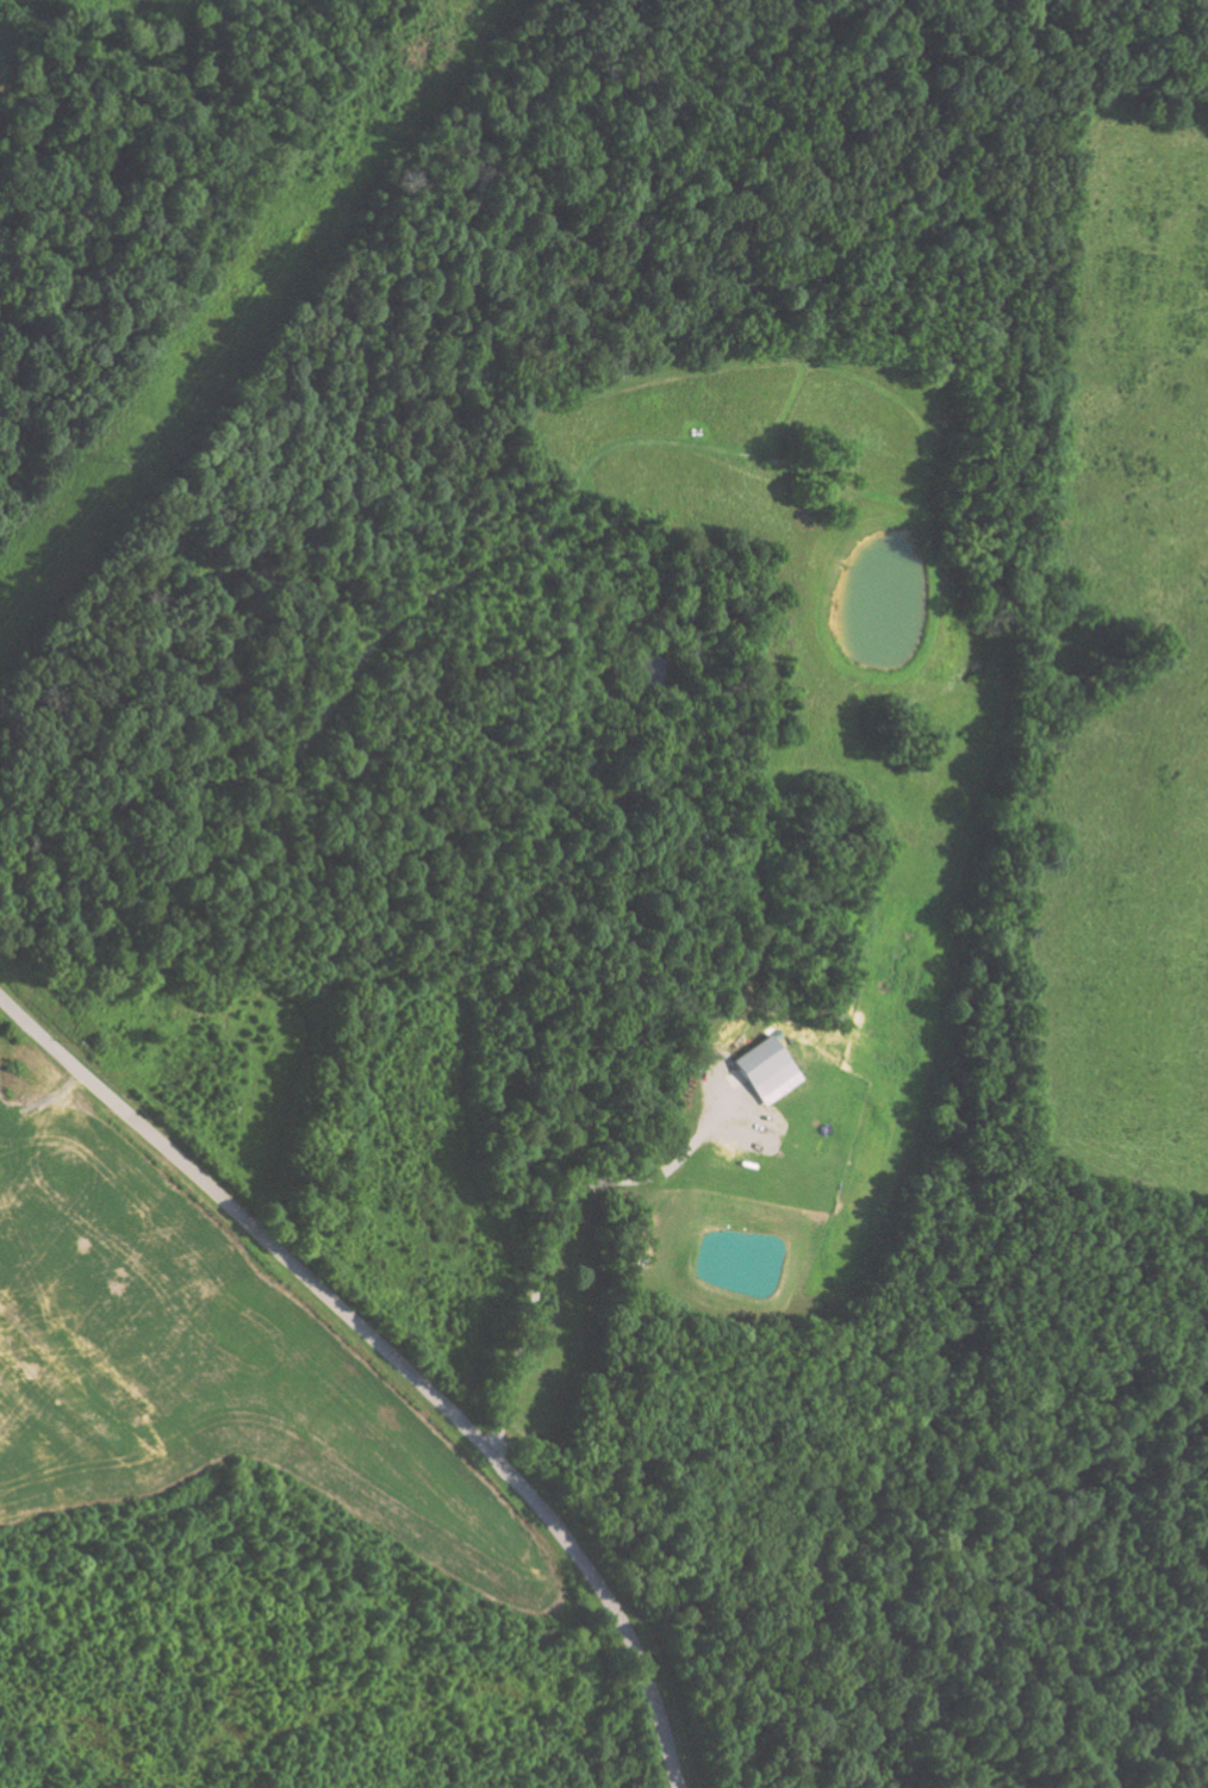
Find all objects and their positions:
building: (765, 1065)
road: (386, 1354)

